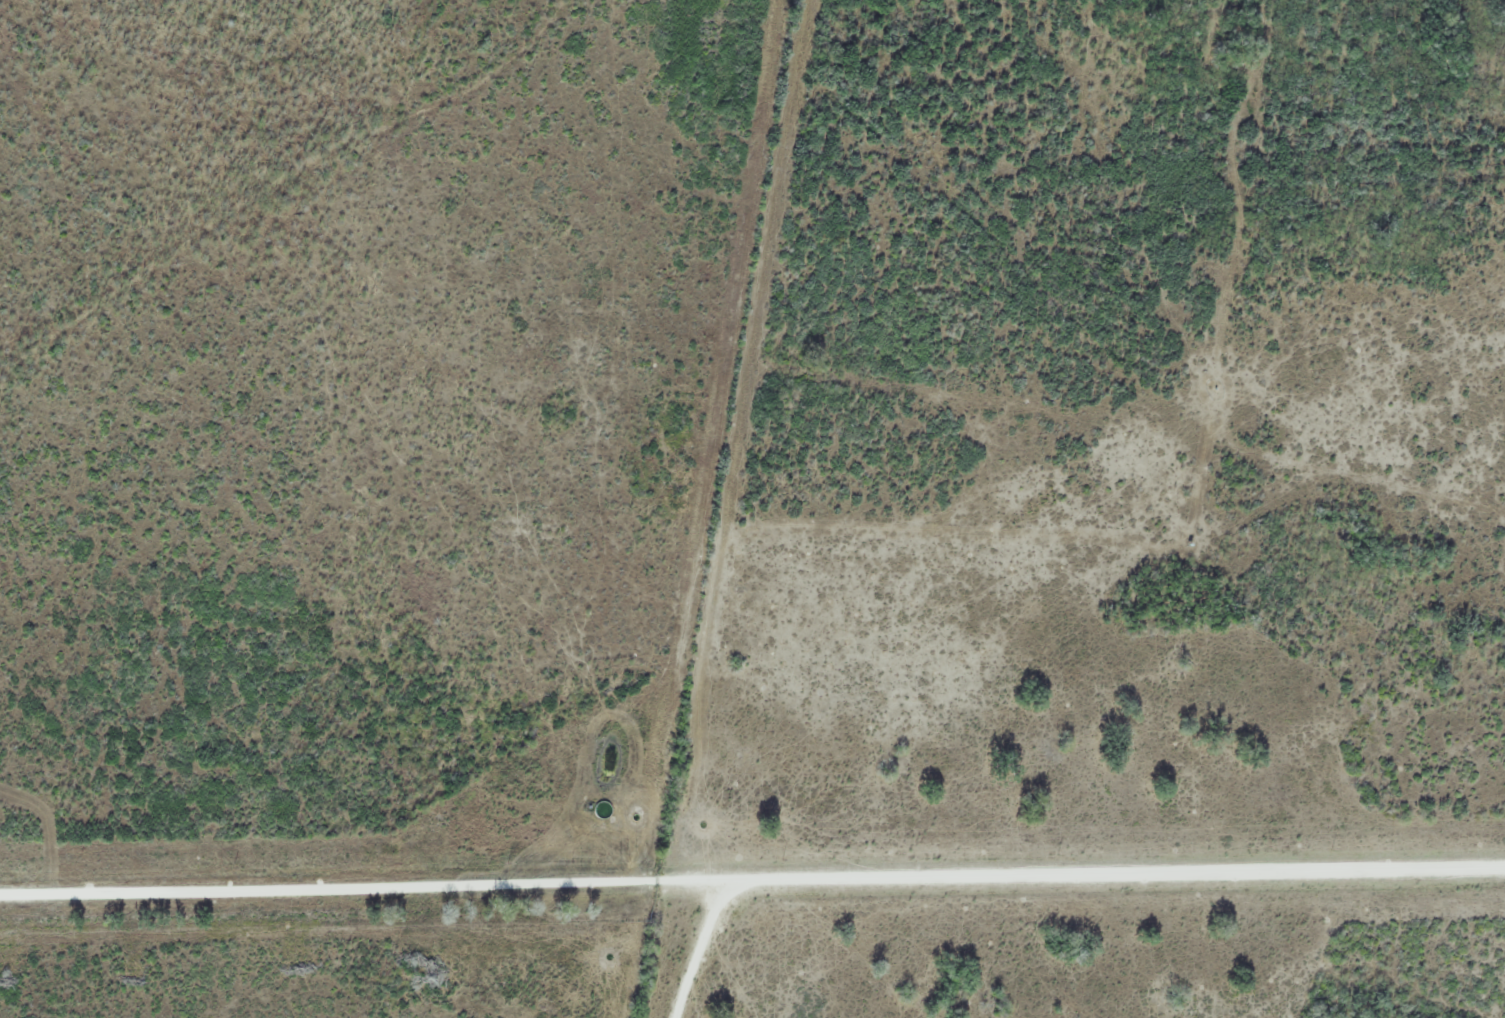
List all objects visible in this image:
road: (752, 914)

